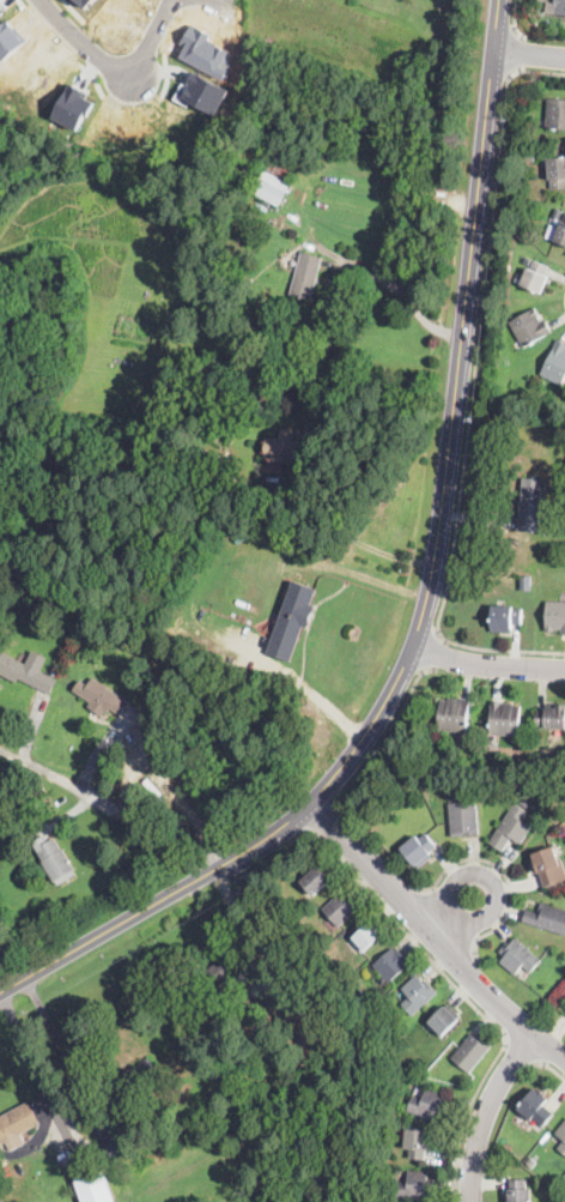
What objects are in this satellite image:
building: (86, 2)
road: (231, 6)
building: (557, 7)
building: (1, 12)
road: (515, 22)
road: (529, 54)
road: (517, 55)
road: (116, 71)
building: (202, 92)
building: (73, 107)
building: (555, 114)
building: (531, 156)
building: (557, 173)
building: (273, 182)
building: (558, 212)
building: (557, 232)
building: (305, 276)
building: (537, 277)
building: (530, 327)
building: (557, 363)
road: (474, 392)
building: (285, 447)
building: (533, 506)
road: (358, 542)
building: (525, 580)
building: (69, 592)
road: (426, 598)
building: (555, 616)
building: (506, 618)
building: (292, 621)
building: (109, 632)
road: (437, 653)
road: (487, 665)
building: (22, 668)
building: (103, 697)
building: (455, 713)
building: (552, 715)
building: (505, 717)
road: (385, 739)
building: (69, 747)
building: (564, 760)
building: (460, 785)
building: (524, 804)
road: (113, 809)
road: (327, 817)
building: (464, 819)
building: (35, 825)
building: (511, 828)
building: (421, 848)
building: (55, 860)
building: (549, 866)
road: (503, 874)
road: (491, 880)
building: (316, 881)
road: (403, 901)
building: (341, 908)
building: (548, 918)
road: (433, 936)
building: (367, 937)
building: (518, 956)
building: (393, 964)
road: (437, 964)
building: (225, 970)
building: (314, 972)
building: (359, 995)
building: (418, 995)
building: (444, 1021)
building: (308, 1039)
building: (472, 1052)
road: (520, 1052)
road: (548, 1067)
building: (135, 1081)
road: (43, 1086)
building: (431, 1105)
building: (237, 1109)
building: (536, 1109)
road: (486, 1113)
building: (17, 1123)
building: (561, 1131)
building: (419, 1143)
building: (111, 1146)
building: (563, 1147)
building: (531, 1162)
building: (417, 1186)
building: (97, 1188)
building: (520, 1192)

